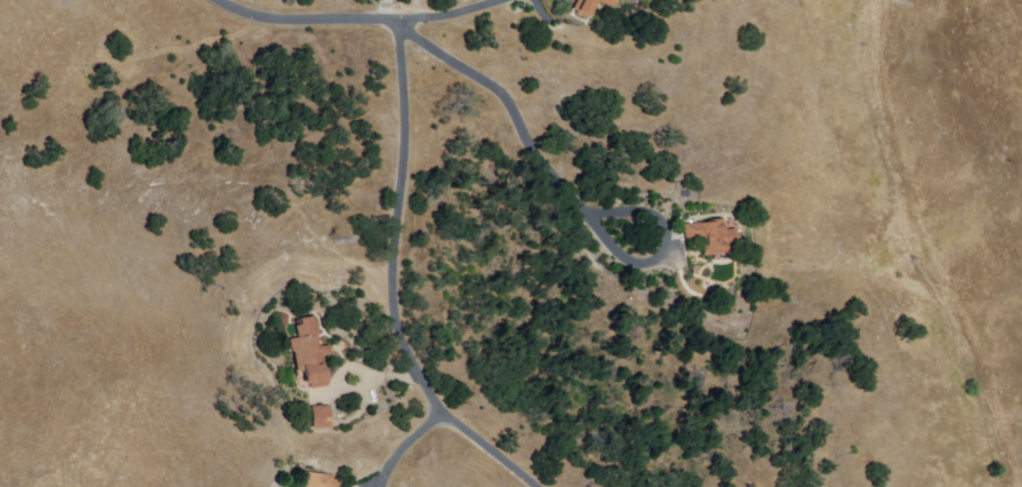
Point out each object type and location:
building: (609, 2)
building: (585, 7)
road: (308, 13)
road: (454, 15)
road: (569, 191)
road: (398, 222)
building: (709, 238)
power tower: (336, 242)
building: (308, 354)
building: (320, 418)
road: (409, 447)
road: (486, 449)
building: (316, 481)

